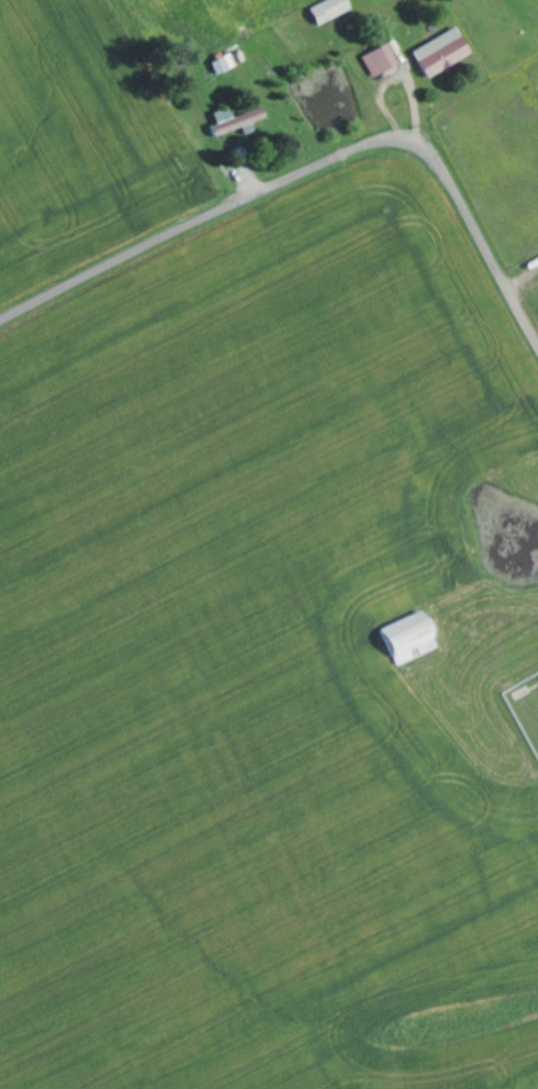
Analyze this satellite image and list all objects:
building: (333, 9)
building: (444, 52)
building: (382, 59)
building: (226, 63)
building: (238, 119)
road: (311, 166)
building: (412, 637)

